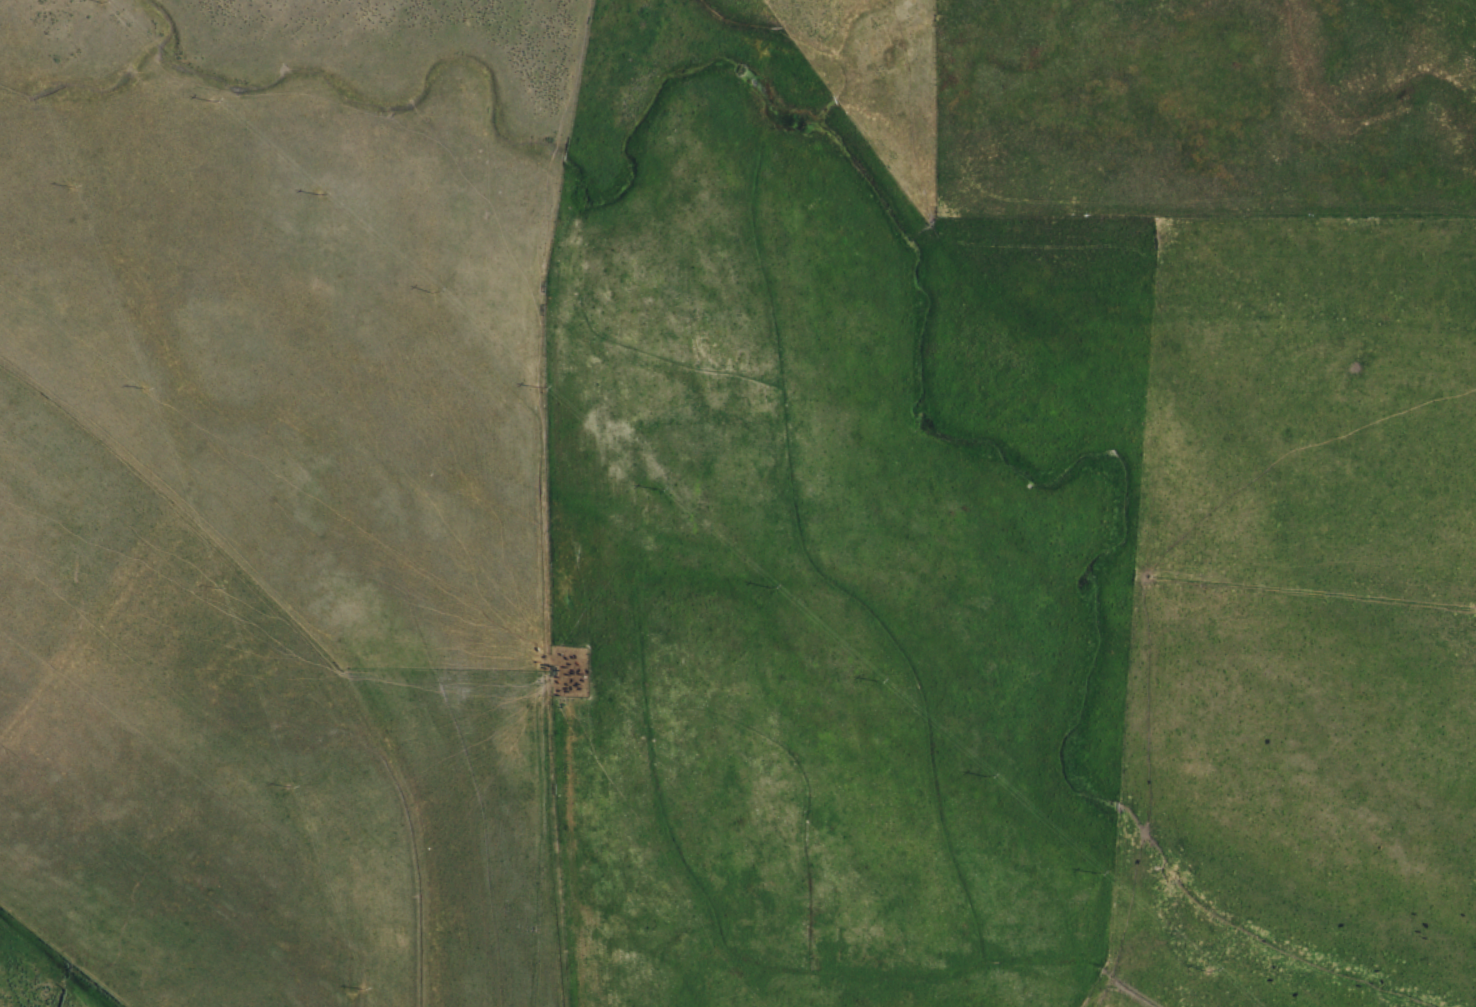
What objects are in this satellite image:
crop: (1155, 229)

